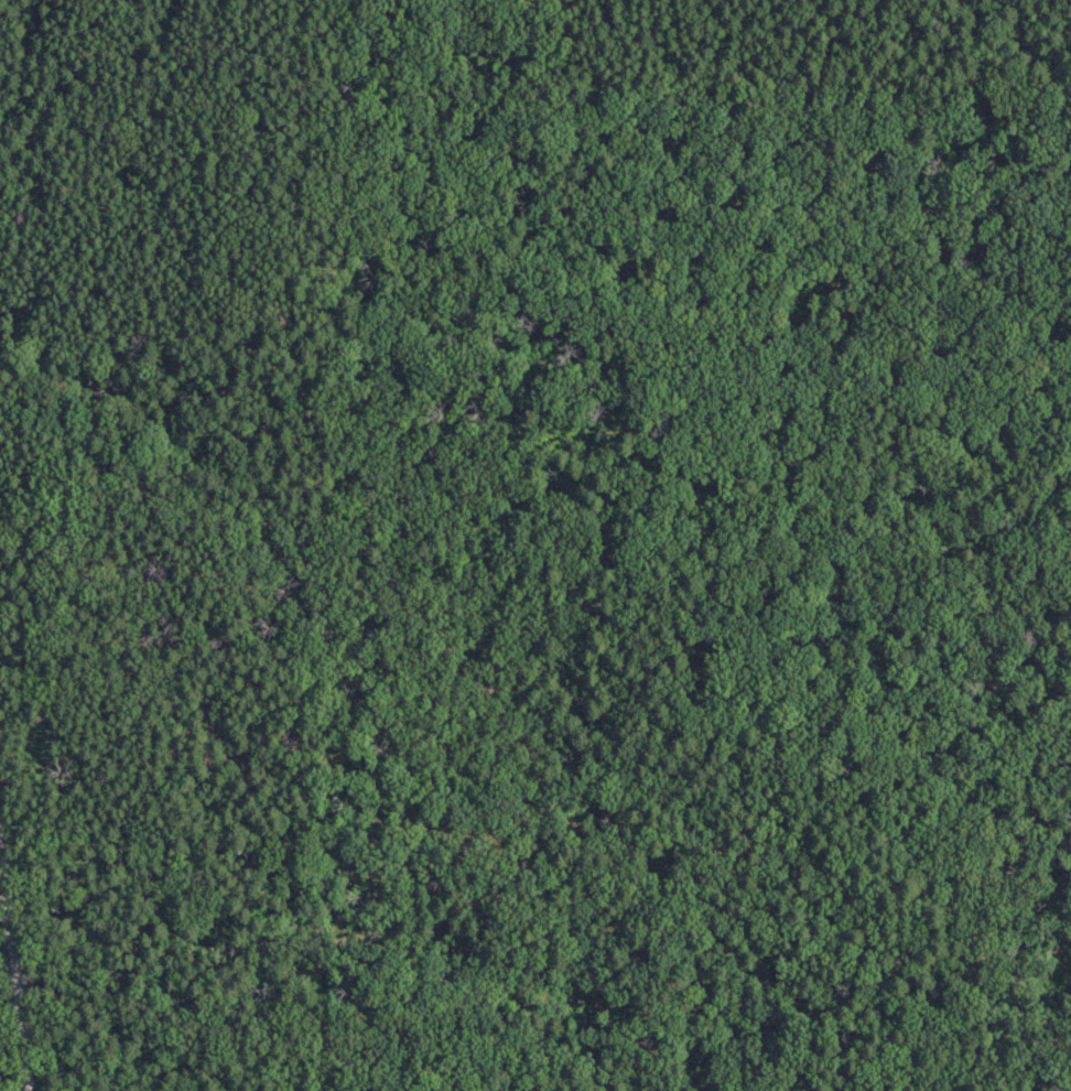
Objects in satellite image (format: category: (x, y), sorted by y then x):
road: (418, 432)
road: (17, 963)

